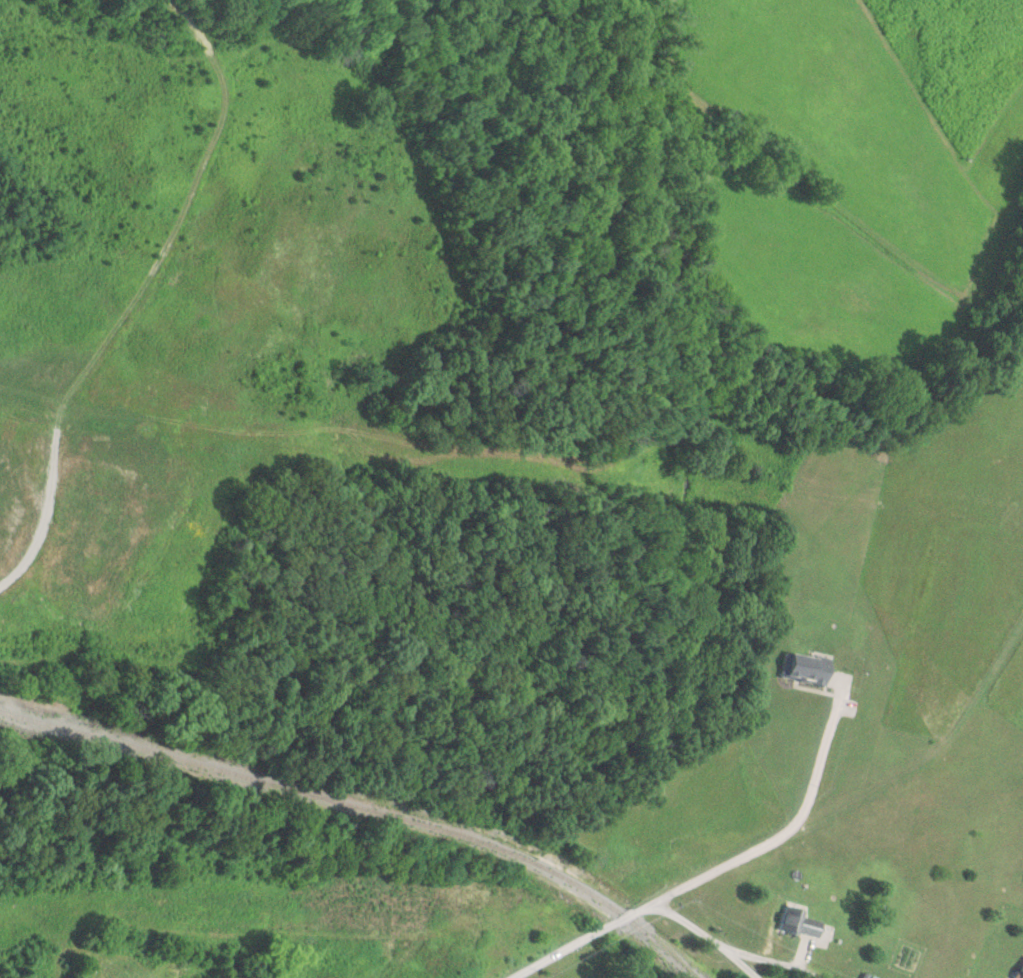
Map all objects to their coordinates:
railway: (362, 808)
road: (678, 916)
building: (807, 925)
road: (569, 946)
building: (1022, 977)

